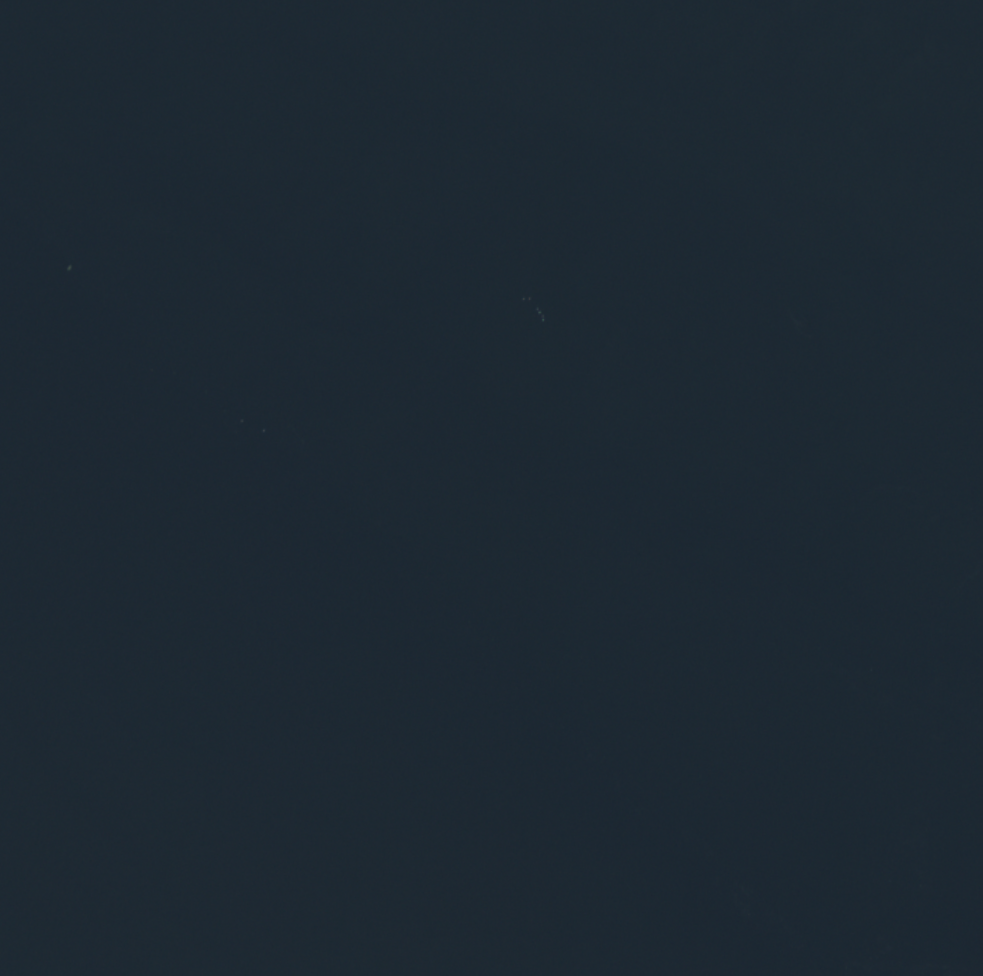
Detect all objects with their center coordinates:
river: (463, 641)

